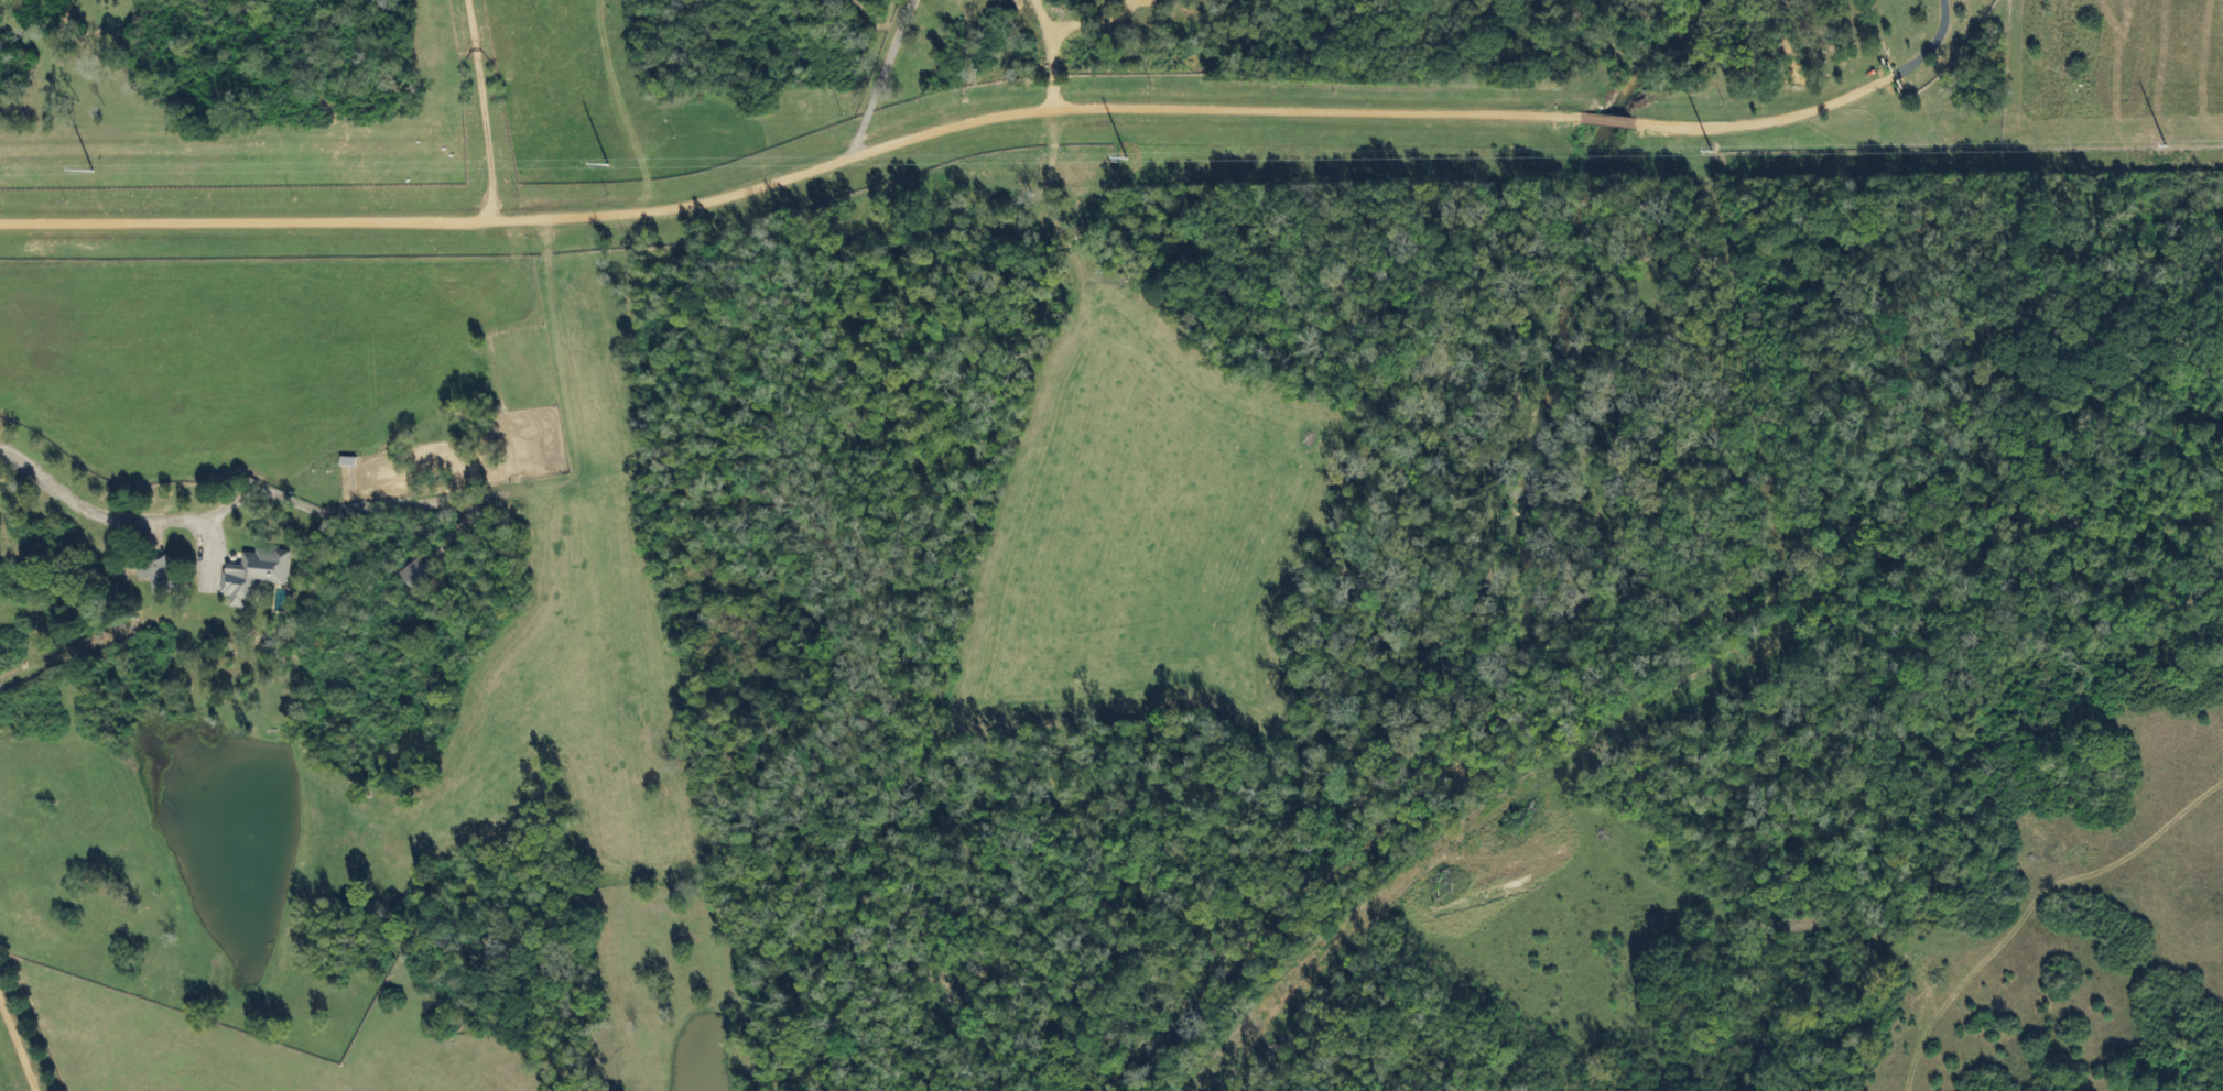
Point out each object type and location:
road: (1070, 33)
road: (1930, 40)
road: (877, 77)
road: (486, 108)
road: (1767, 114)
road: (1605, 118)
power tower: (2166, 145)
power tower: (1713, 152)
power tower: (1127, 155)
power tower: (607, 165)
power tower: (94, 171)
road: (792, 182)
road: (90, 522)
building: (148, 574)
building: (254, 576)
road: (17, 1051)

